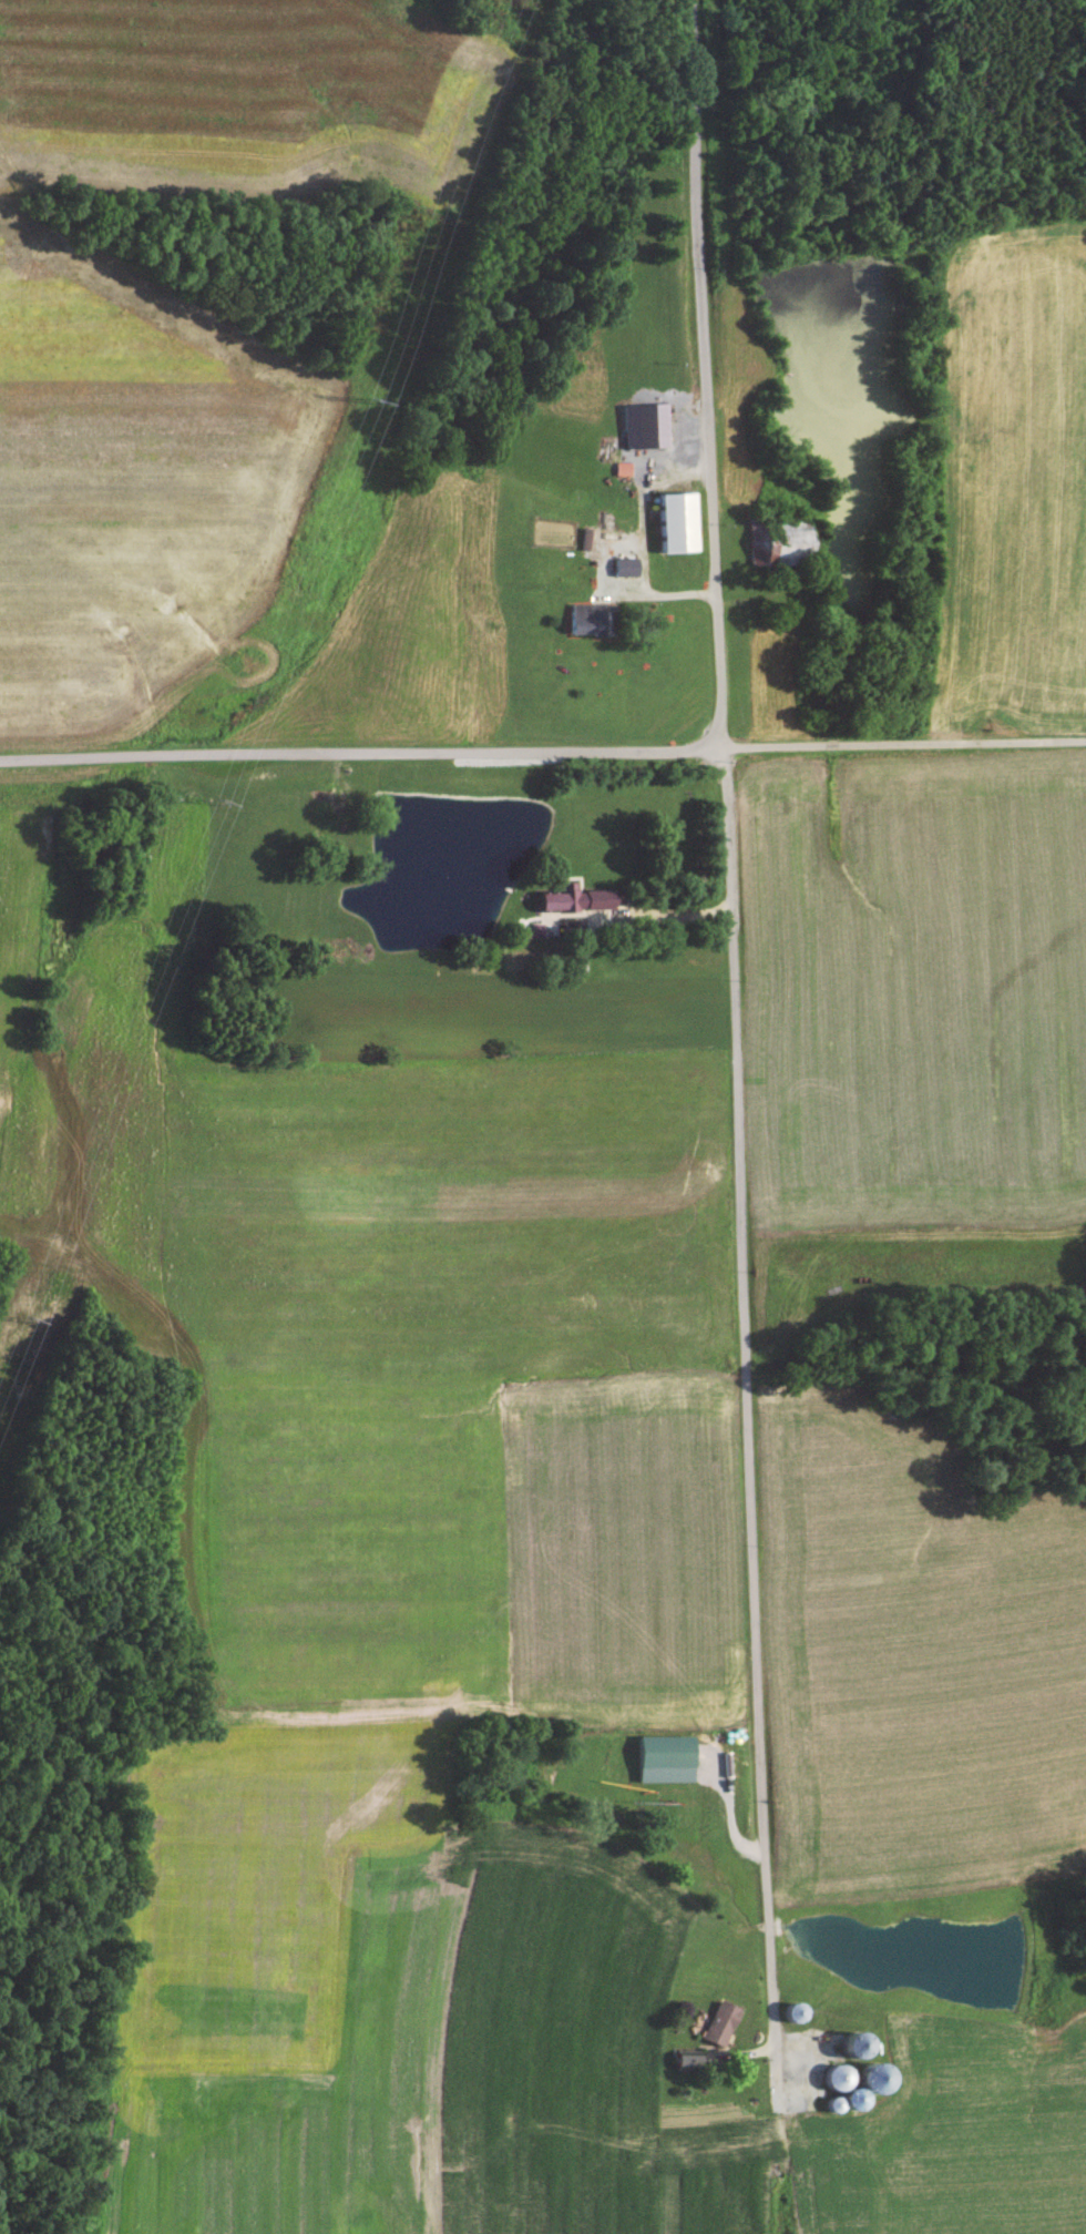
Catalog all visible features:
road: (703, 371)
building: (672, 529)
building: (771, 550)
building: (621, 573)
building: (577, 625)
road: (900, 734)
road: (358, 753)
building: (571, 904)
road: (734, 1333)
building: (660, 1764)
building: (715, 2029)
building: (846, 2049)
building: (682, 2065)
building: (865, 2083)
building: (833, 2084)

